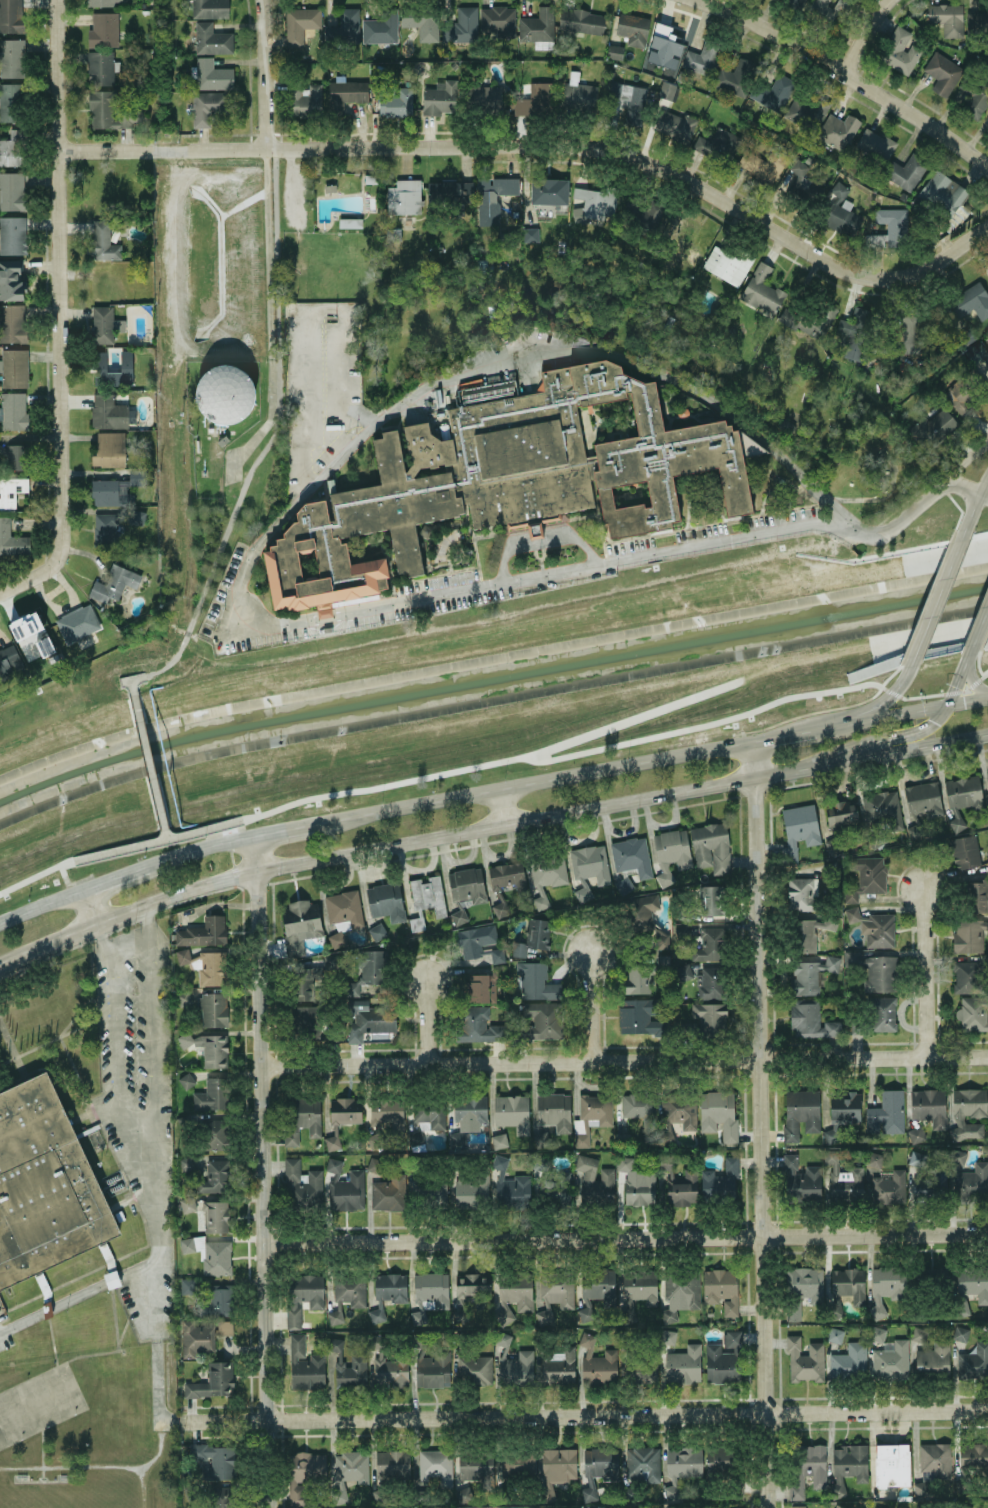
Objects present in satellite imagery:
building: (100, 3)
building: (794, 3)
building: (210, 8)
building: (827, 9)
building: (11, 16)
building: (947, 18)
building: (498, 21)
building: (582, 21)
building: (300, 23)
building: (422, 23)
building: (462, 25)
building: (381, 26)
building: (344, 27)
building: (538, 28)
building: (633, 28)
building: (104, 29)
road: (863, 35)
building: (212, 39)
building: (664, 47)
building: (615, 51)
building: (900, 51)
building: (12, 57)
building: (702, 58)
building: (101, 67)
road: (262, 73)
building: (943, 73)
building: (211, 74)
building: (737, 76)
road: (848, 76)
building: (667, 90)
building: (578, 92)
building: (773, 92)
building: (347, 93)
building: (440, 97)
building: (482, 97)
building: (307, 100)
building: (535, 100)
building: (630, 101)
building: (976, 101)
building: (10, 102)
building: (396, 102)
building: (208, 106)
building: (808, 110)
building: (111, 111)
building: (987, 113)
building: (675, 124)
building: (838, 130)
building: (876, 144)
building: (718, 145)
road: (545, 146)
building: (12, 148)
building: (764, 164)
building: (906, 171)
building: (798, 178)
building: (330, 187)
building: (12, 191)
building: (548, 191)
building: (944, 191)
building: (451, 192)
building: (404, 197)
building: (595, 204)
building: (841, 211)
building: (488, 212)
building: (644, 214)
building: (350, 223)
building: (888, 228)
building: (13, 235)
building: (104, 241)
building: (728, 264)
building: (11, 280)
building: (762, 290)
building: (971, 301)
road: (61, 309)
road: (266, 314)
road: (300, 319)
building: (809, 319)
building: (12, 323)
building: (105, 324)
building: (855, 332)
building: (911, 332)
building: (975, 353)
building: (14, 368)
building: (112, 369)
building: (488, 387)
building: (224, 393)
storage tank: (224, 393)
building: (963, 393)
building: (13, 410)
building: (108, 411)
building: (936, 427)
road: (277, 430)
building: (750, 444)
building: (109, 449)
building: (16, 456)
road: (965, 462)
building: (505, 479)
road: (967, 487)
building: (11, 490)
building: (112, 491)
road: (953, 501)
road: (972, 503)
road: (911, 510)
building: (137, 517)
building: (105, 529)
road: (538, 537)
building: (12, 539)
road: (248, 559)
building: (114, 583)
road: (3, 590)
road: (937, 596)
building: (78, 622)
road: (979, 627)
building: (32, 636)
road: (969, 651)
building: (9, 660)
road: (132, 678)
road: (955, 680)
road: (972, 683)
park: (494, 692)
river: (490, 694)
road: (886, 699)
road: (965, 700)
traffic signals: (943, 705)
road: (892, 713)
road: (636, 718)
road: (828, 725)
road: (780, 735)
road: (887, 738)
road: (619, 743)
road: (905, 746)
road: (149, 760)
building: (987, 774)
road: (530, 783)
building: (961, 797)
building: (924, 798)
road: (498, 807)
building: (883, 808)
building: (842, 814)
building: (800, 825)
road: (282, 830)
road: (166, 833)
road: (227, 838)
road: (158, 840)
road: (405, 841)
building: (711, 847)
road: (198, 849)
building: (965, 851)
building: (671, 852)
building: (631, 856)
building: (590, 863)
road: (35, 875)
building: (507, 875)
building: (546, 876)
building: (866, 876)
road: (117, 877)
road: (69, 883)
building: (467, 884)
building: (583, 891)
building: (801, 892)
building: (977, 896)
building: (384, 899)
building: (426, 899)
building: (711, 899)
road: (42, 905)
road: (91, 906)
building: (645, 910)
building: (343, 913)
building: (458, 917)
building: (300, 925)
building: (874, 927)
building: (377, 931)
building: (203, 932)
building: (806, 935)
building: (533, 936)
building: (662, 939)
building: (475, 940)
building: (709, 944)
building: (497, 954)
building: (183, 955)
building: (663, 961)
building: (211, 968)
building: (368, 970)
building: (683, 971)
building: (876, 971)
road: (923, 973)
building: (811, 974)
building: (968, 976)
building: (638, 978)
building: (537, 981)
building: (305, 983)
building: (711, 983)
building: (485, 984)
building: (184, 998)
road: (591, 1006)
building: (212, 1008)
road: (148, 1009)
building: (883, 1013)
building: (973, 1013)
building: (639, 1015)
building: (711, 1018)
building: (370, 1019)
building: (811, 1019)
building: (307, 1020)
building: (543, 1020)
road: (427, 1023)
building: (477, 1025)
road: (56, 1038)
building: (208, 1048)
road: (11, 1055)
road: (114, 1057)
road: (622, 1061)
building: (186, 1080)
building: (211, 1094)
building: (929, 1106)
building: (680, 1109)
building: (554, 1110)
building: (639, 1110)
building: (470, 1111)
road: (135, 1112)
building: (512, 1112)
building: (801, 1112)
building: (843, 1112)
building: (968, 1112)
building: (388, 1113)
building: (719, 1113)
building: (886, 1113)
building: (430, 1114)
building: (591, 1116)
building: (342, 1117)
building: (302, 1119)
road: (763, 1125)
building: (216, 1134)
building: (916, 1134)
building: (415, 1137)
building: (541, 1139)
building: (375, 1140)
building: (499, 1140)
road: (148, 1151)
building: (957, 1156)
building: (917, 1158)
building: (874, 1160)
building: (186, 1163)
road: (259, 1172)
building: (608, 1174)
building: (215, 1177)
building: (720, 1179)
building: (802, 1180)
building: (843, 1181)
building: (637, 1182)
building: (974, 1182)
building: (44, 1184)
building: (301, 1184)
building: (930, 1185)
building: (511, 1186)
building: (345, 1187)
building: (683, 1188)
building: (889, 1188)
building: (564, 1189)
building: (471, 1190)
building: (437, 1191)
building: (388, 1193)
building: (188, 1204)
building: (216, 1216)
road: (624, 1238)
building: (210, 1254)
building: (805, 1282)
building: (849, 1283)
building: (973, 1283)
building: (186, 1285)
building: (473, 1285)
building: (885, 1287)
building: (349, 1288)
building: (596, 1289)
building: (639, 1289)
building: (721, 1289)
building: (388, 1292)
building: (430, 1293)
building: (680, 1293)
road: (77, 1294)
building: (555, 1294)
building: (303, 1296)
building: (514, 1296)
building: (221, 1299)
building: (835, 1305)
building: (204, 1307)
building: (793, 1311)
road: (155, 1314)
building: (334, 1317)
building: (225, 1326)
building: (877, 1333)
building: (919, 1333)
building: (960, 1333)
building: (835, 1334)
building: (668, 1336)
building: (196, 1338)
building: (504, 1338)
building: (375, 1341)
building: (934, 1357)
building: (358, 1359)
building: (724, 1359)
building: (805, 1360)
building: (849, 1360)
building: (891, 1361)
building: (597, 1362)
building: (974, 1362)
building: (684, 1364)
building: (305, 1365)
building: (559, 1366)
building: (518, 1367)
building: (475, 1368)
building: (434, 1369)
building: (644, 1369)
building: (392, 1371)
building: (213, 1381)
road: (582, 1415)
building: (973, 1453)
building: (719, 1457)
building: (935, 1459)
building: (216, 1460)
building: (518, 1463)
building: (643, 1463)
building: (849, 1463)
building: (392, 1464)
road: (96, 1465)
building: (892, 1465)
building: (436, 1466)
building: (475, 1466)
building: (682, 1466)
building: (808, 1467)
building: (557, 1468)
building: (598, 1469)
building: (348, 1471)
building: (304, 1473)
road: (143, 1486)
building: (463, 1494)
park: (61, 1496)
building: (221, 1496)
building: (798, 1506)
building: (877, 1507)

